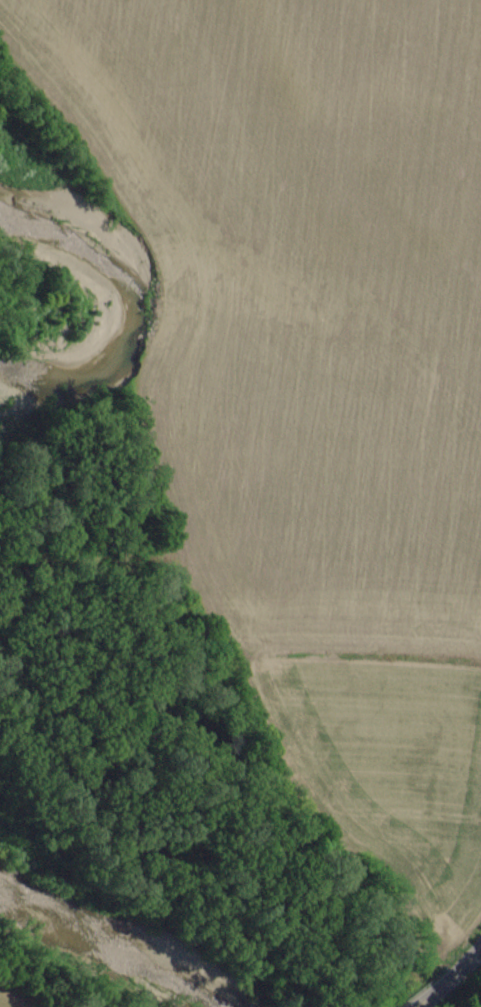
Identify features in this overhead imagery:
road: (447, 978)

